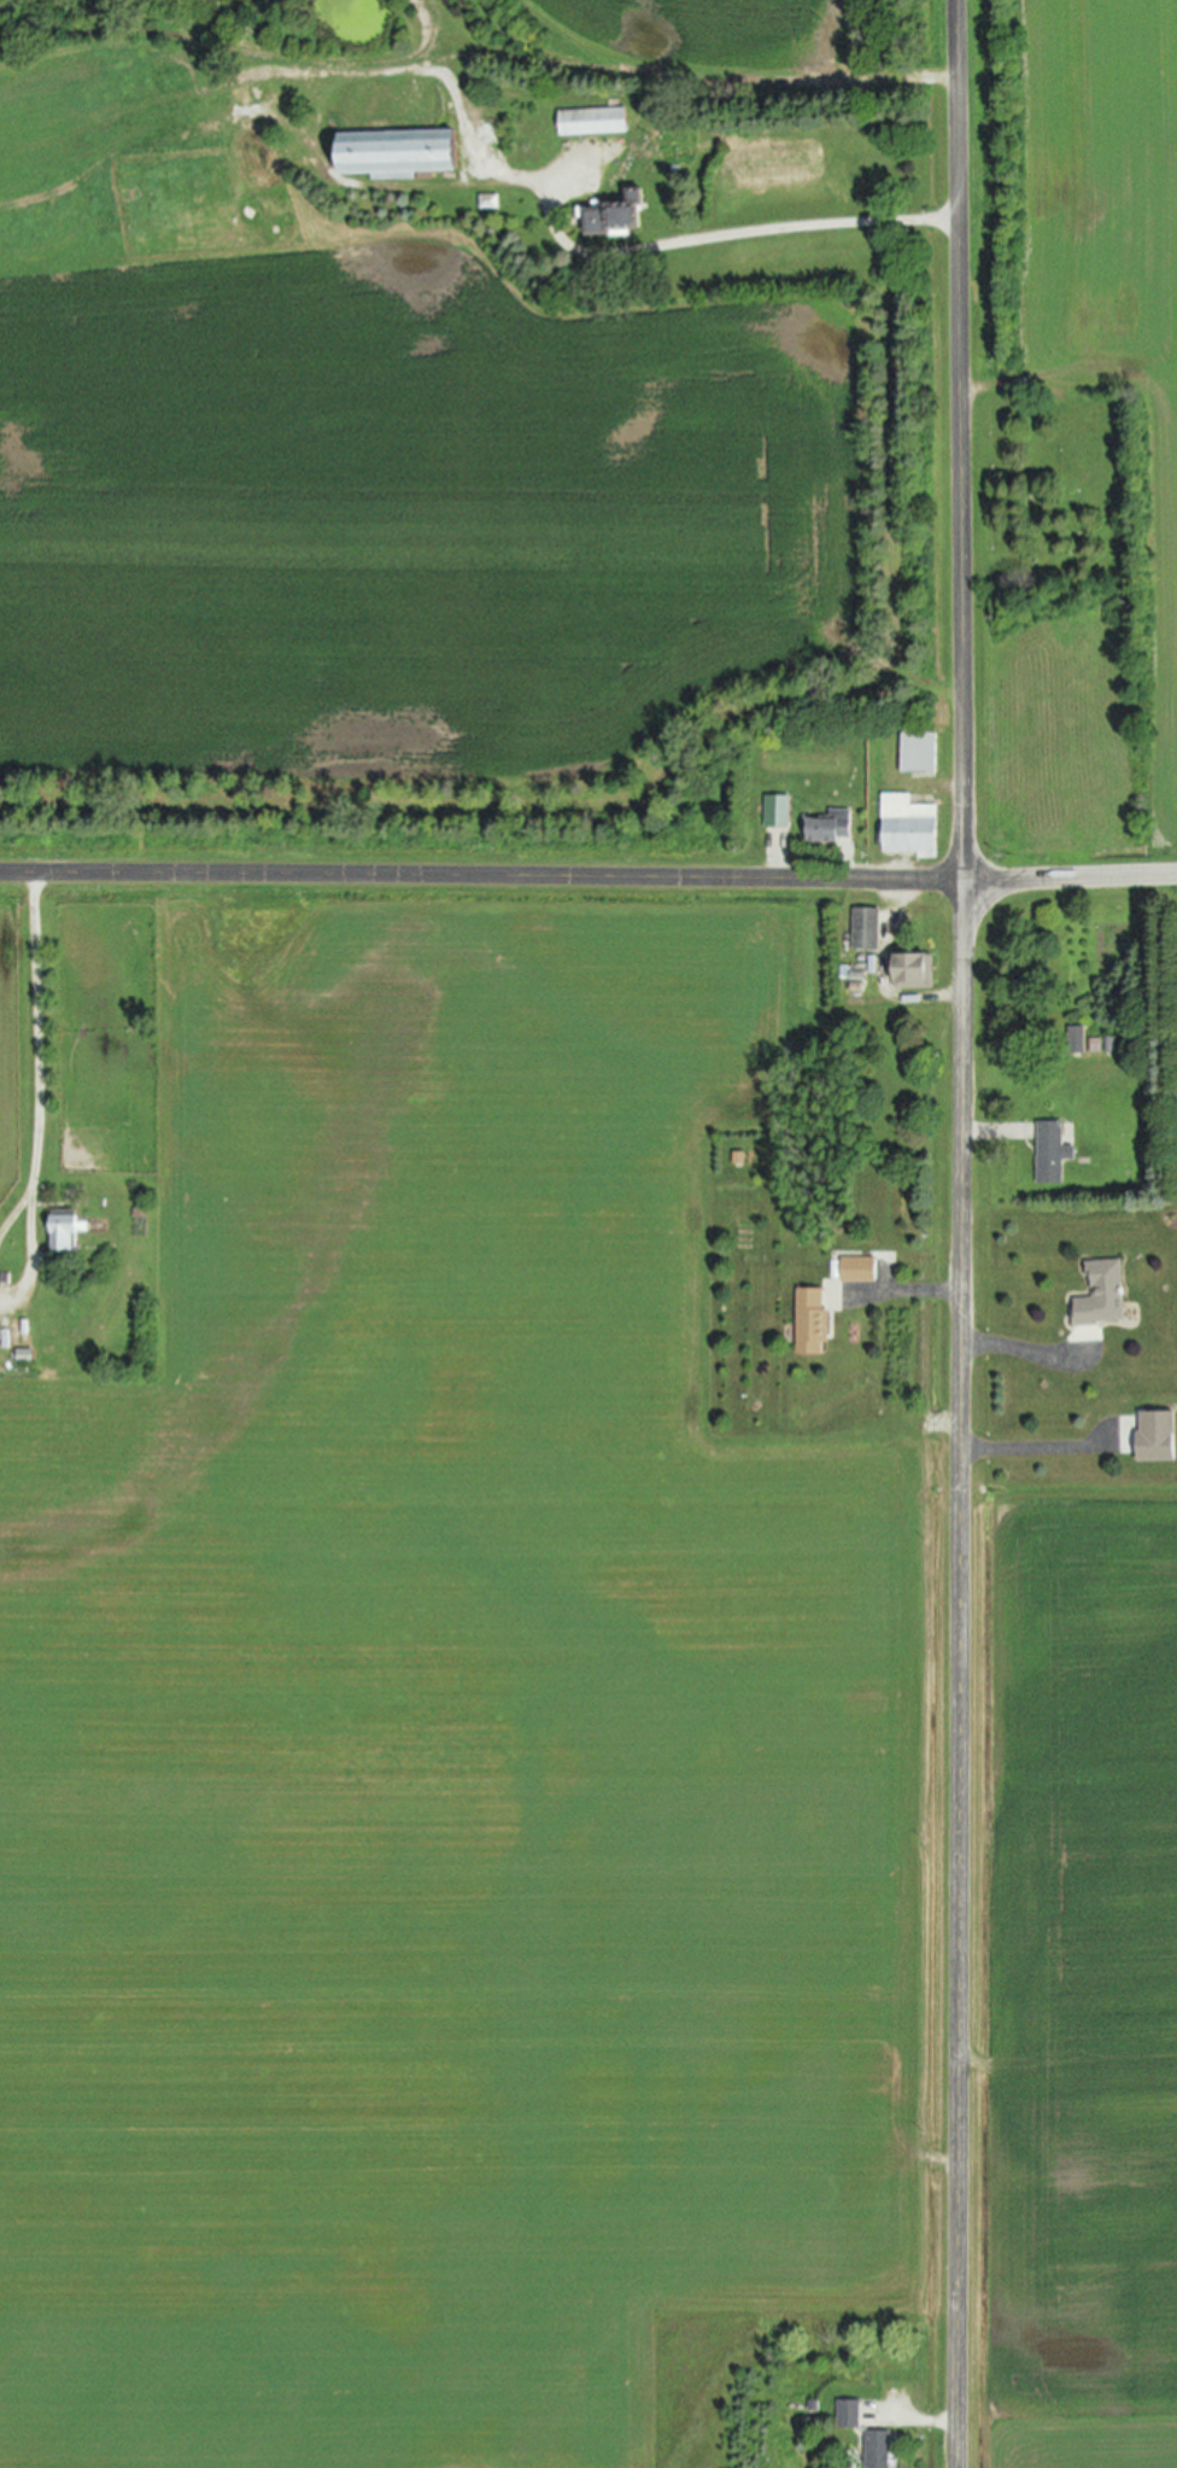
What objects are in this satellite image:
building: (592, 122)
building: (397, 154)
building: (488, 203)
building: (615, 218)
road: (727, 231)
building: (919, 753)
building: (777, 811)
building: (831, 827)
building: (908, 827)
road: (588, 876)
building: (866, 929)
building: (913, 972)
road: (41, 1037)
building: (1077, 1039)
road: (992, 1130)
building: (1053, 1153)
road: (16, 1219)
road: (964, 1233)
road: (30, 1259)
building: (859, 1270)
road: (918, 1294)
building: (1102, 1296)
building: (812, 1323)
road: (1013, 1346)
building: (1156, 1437)
road: (1040, 1447)
building: (849, 2412)
road: (926, 2421)
building: (878, 2449)

